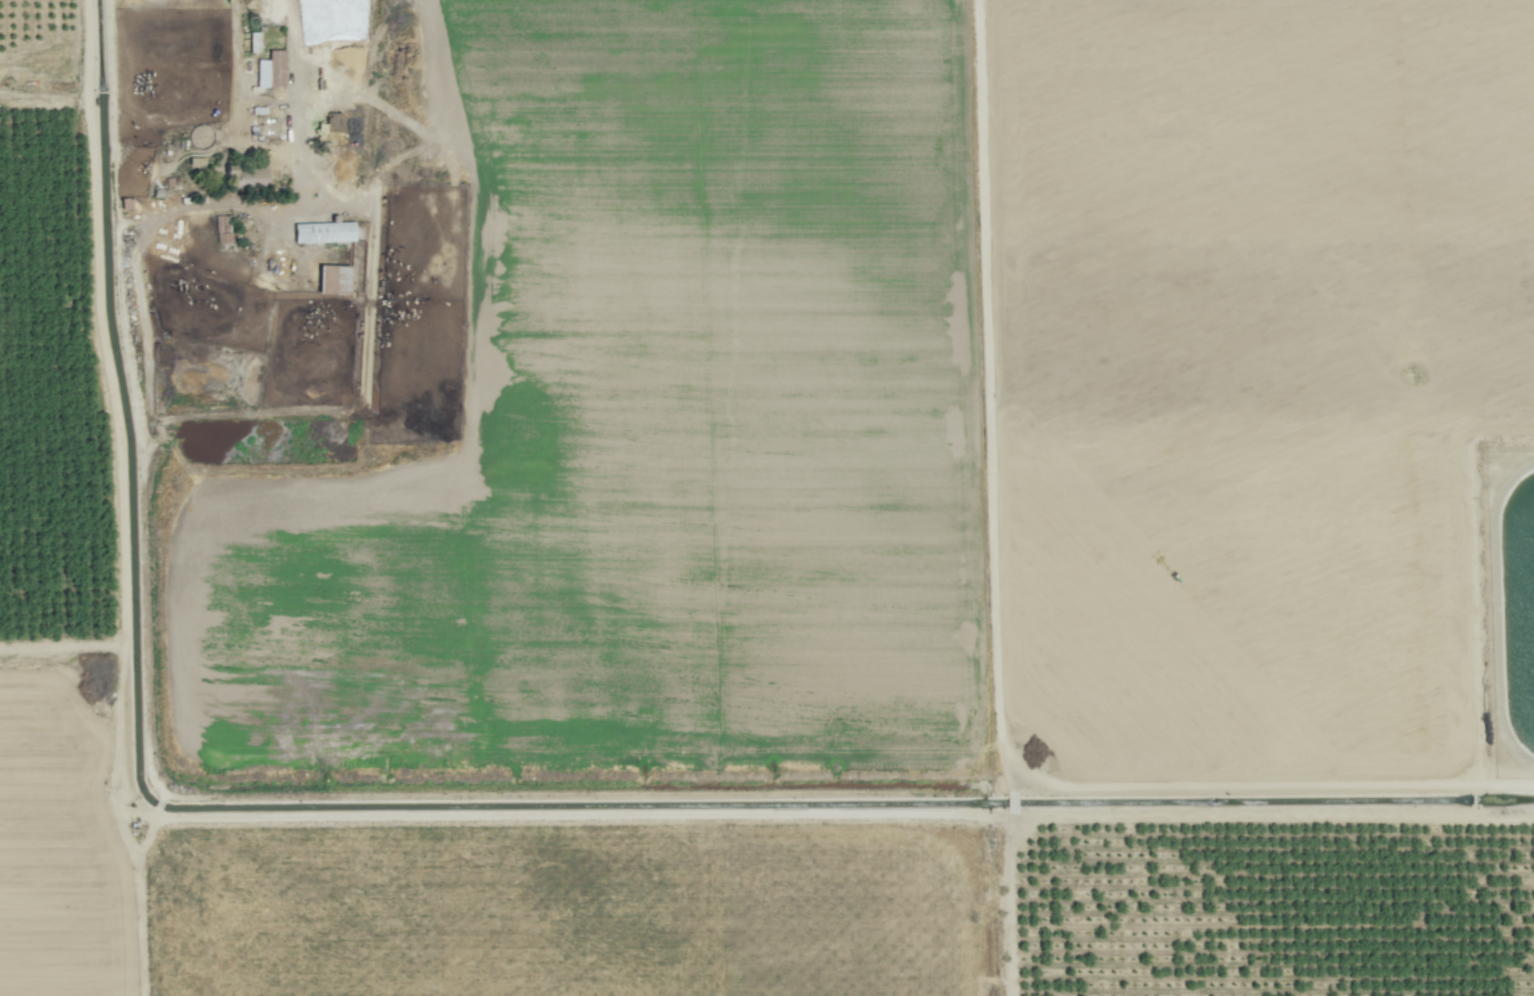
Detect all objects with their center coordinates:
power tower: (244, 0)
power tower: (254, 24)
building: (270, 70)
road: (291, 127)
building: (195, 161)
building: (247, 175)
building: (222, 231)
building: (323, 232)
building: (332, 279)

